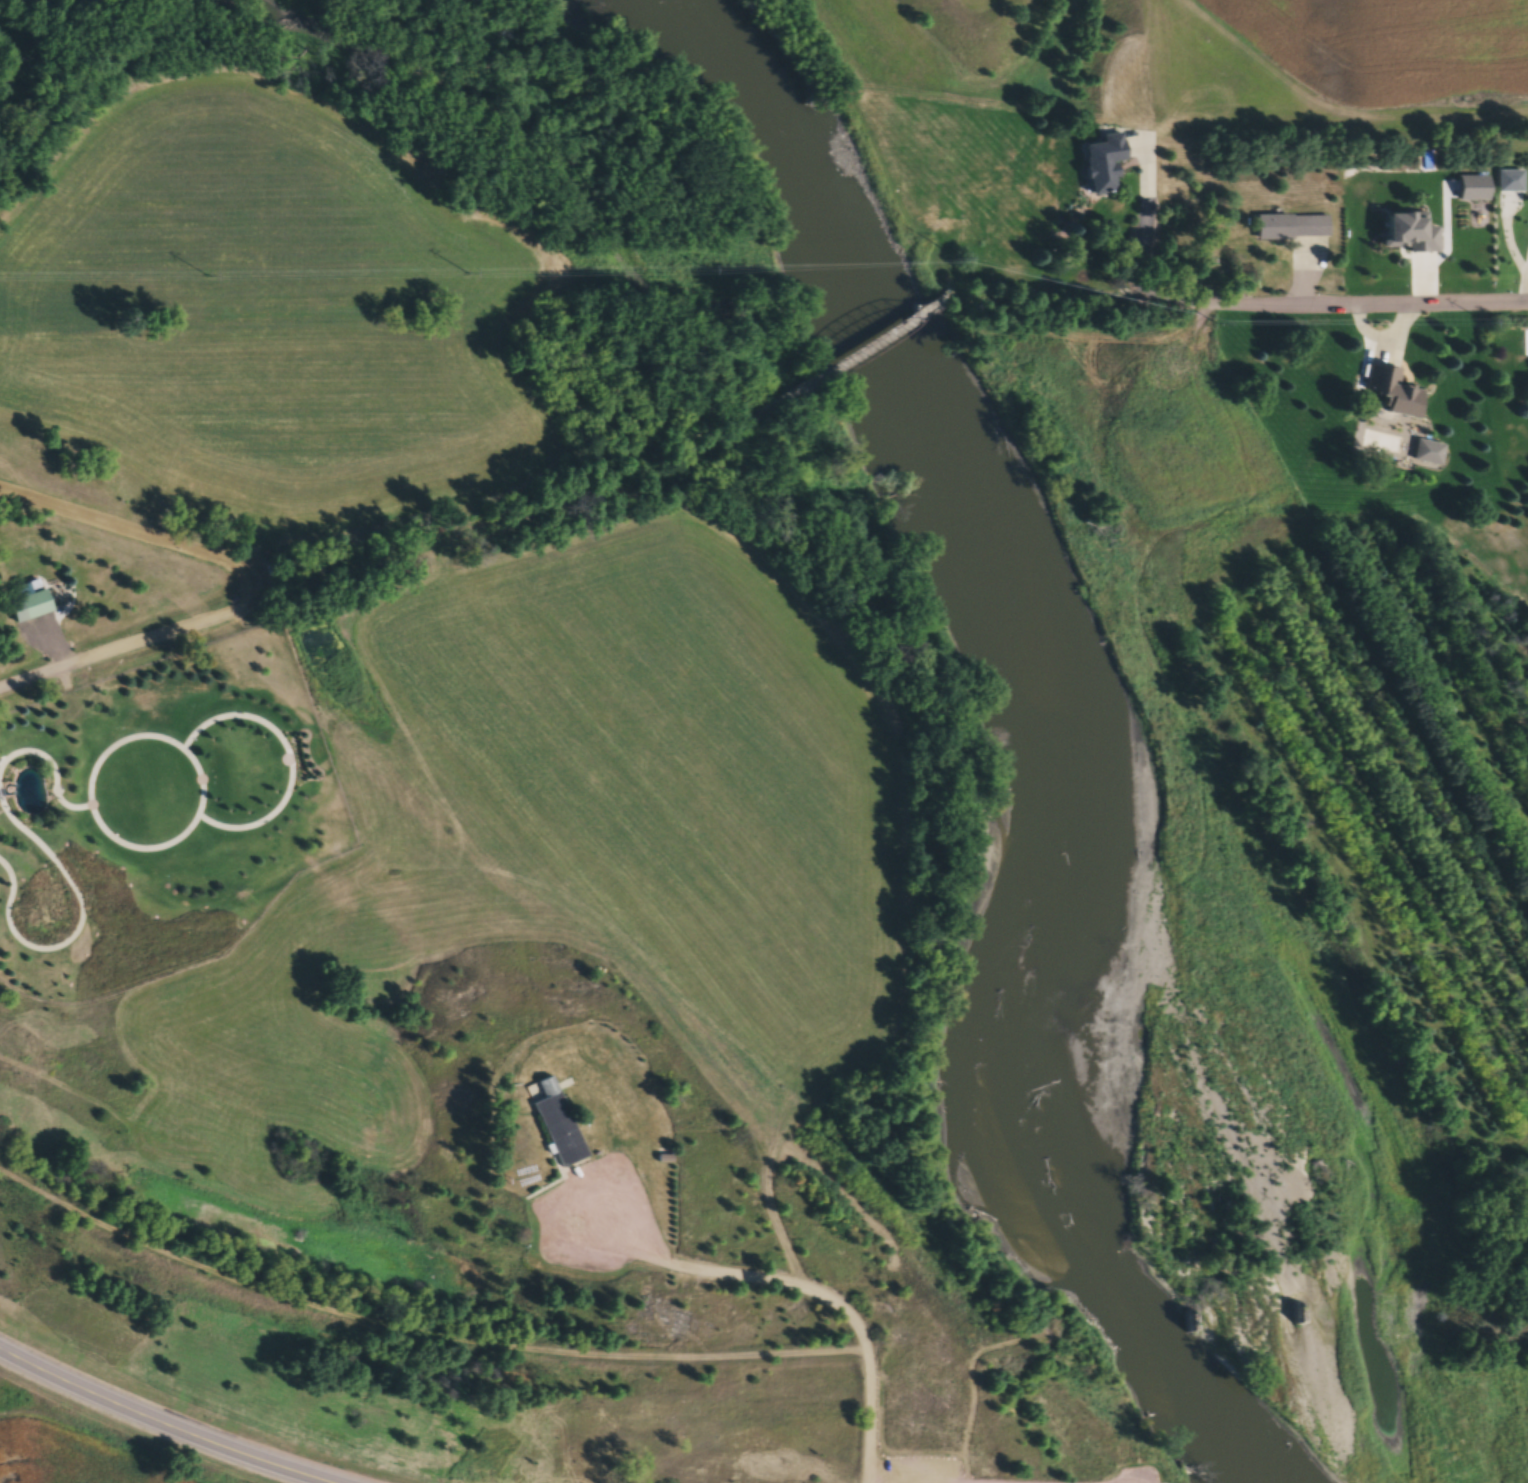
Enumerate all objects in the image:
building: (1107, 163)
building: (1295, 226)
road: (1144, 252)
road: (1081, 301)
road: (1366, 304)
road: (881, 340)
building: (1394, 391)
road: (535, 501)
road: (134, 531)
building: (30, 604)
road: (50, 643)
road: (135, 643)
river: (1059, 742)
building: (560, 1125)
building: (666, 1157)
road: (724, 1272)
road: (418, 1317)
road: (869, 1373)
road: (162, 1424)
crop: (69, 1457)

